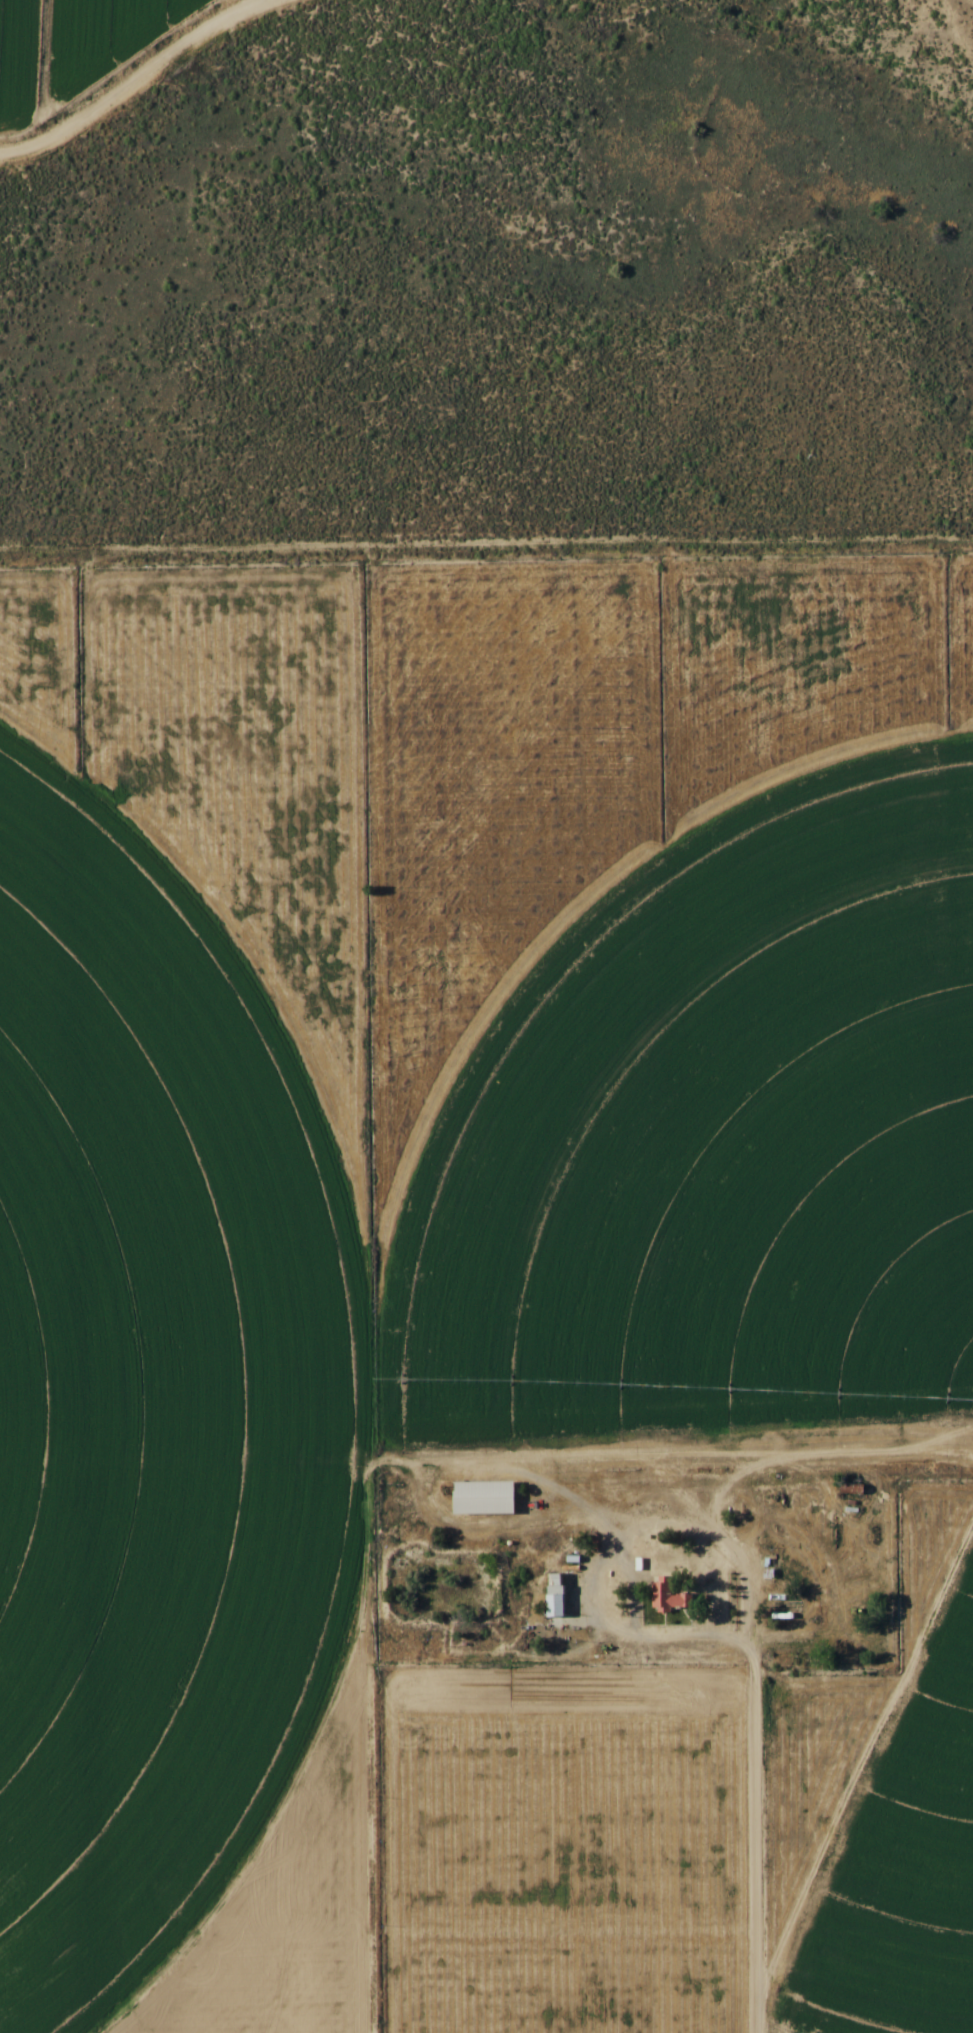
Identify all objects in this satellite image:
building: (483, 1496)
building: (555, 1594)
building: (669, 1595)
road: (761, 1819)

